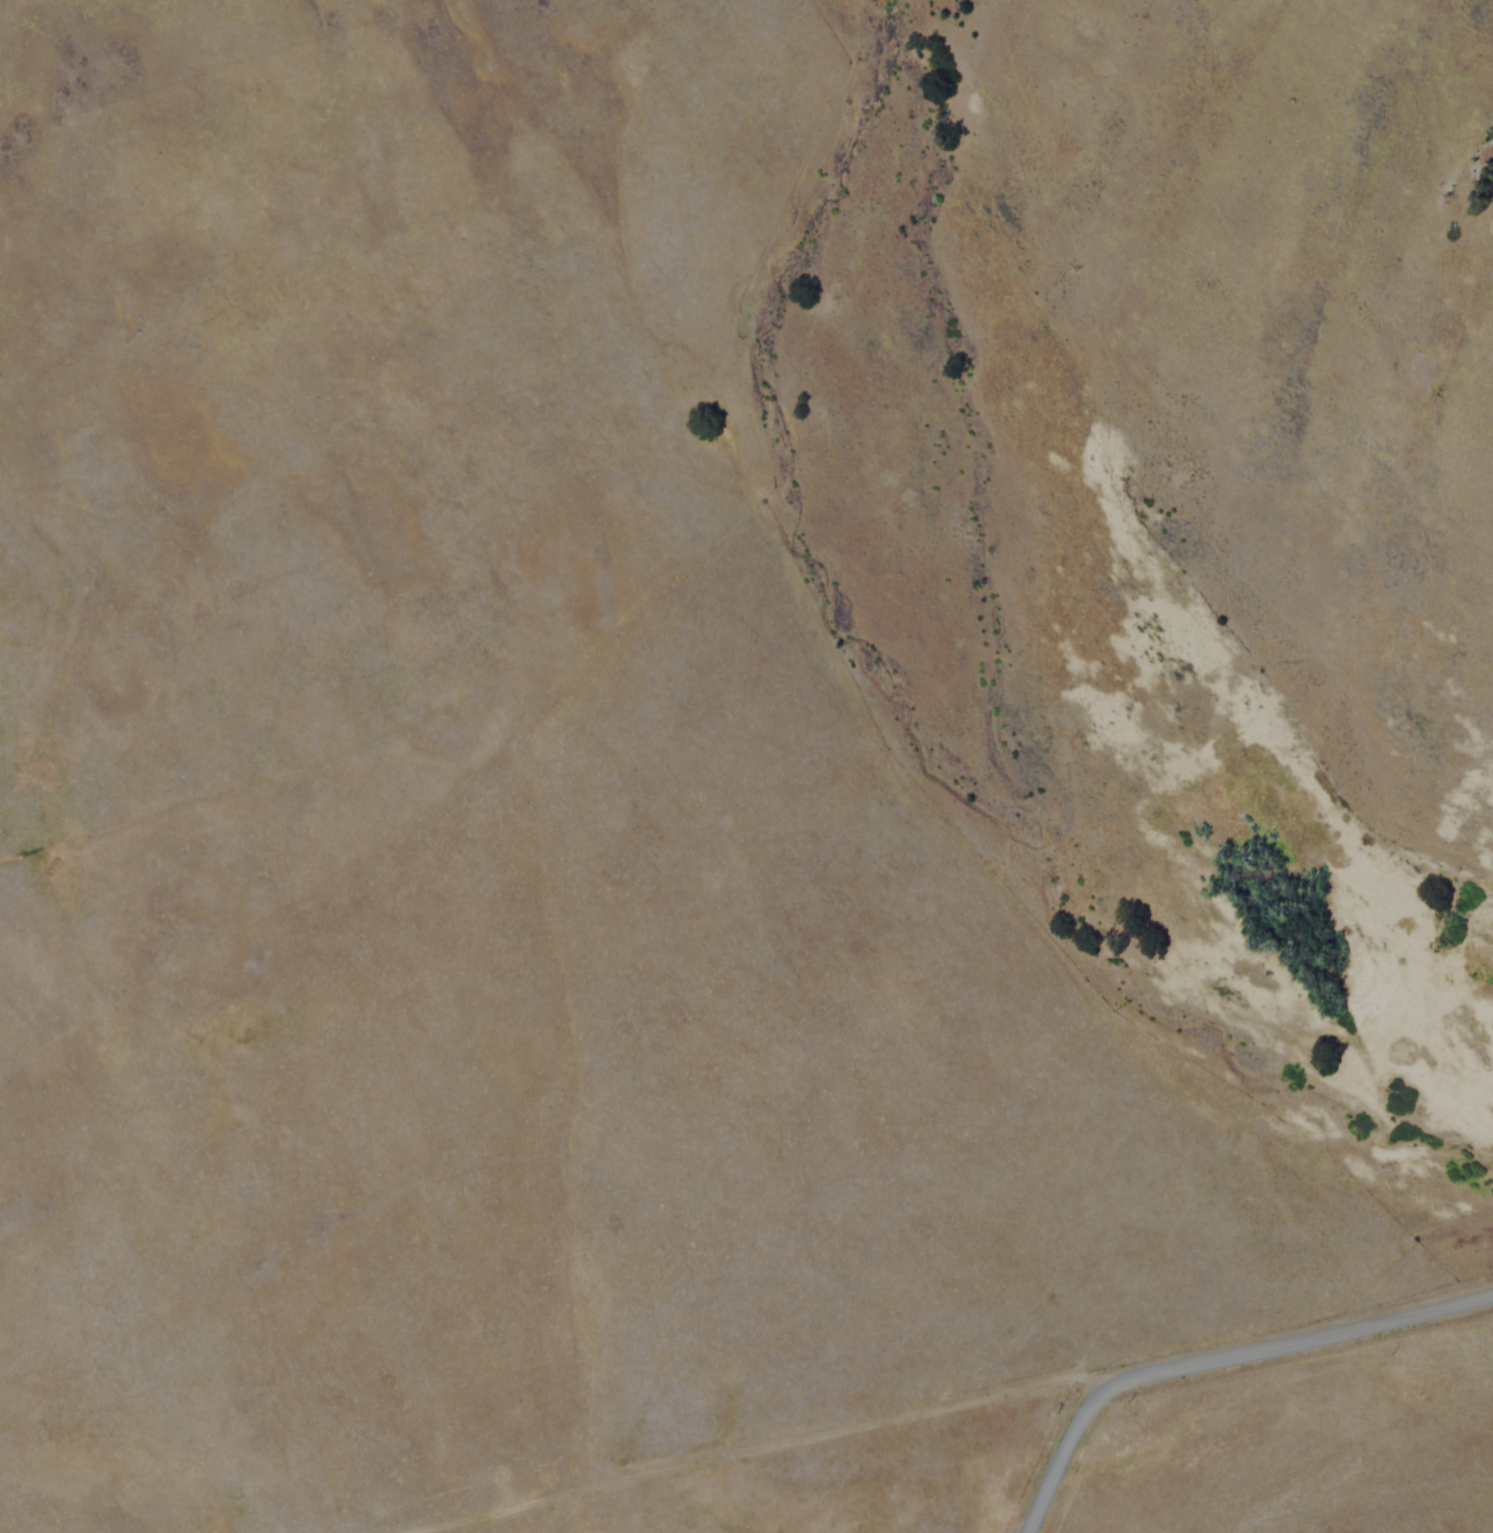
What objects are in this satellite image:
road: (1214, 1355)
road: (776, 1450)

